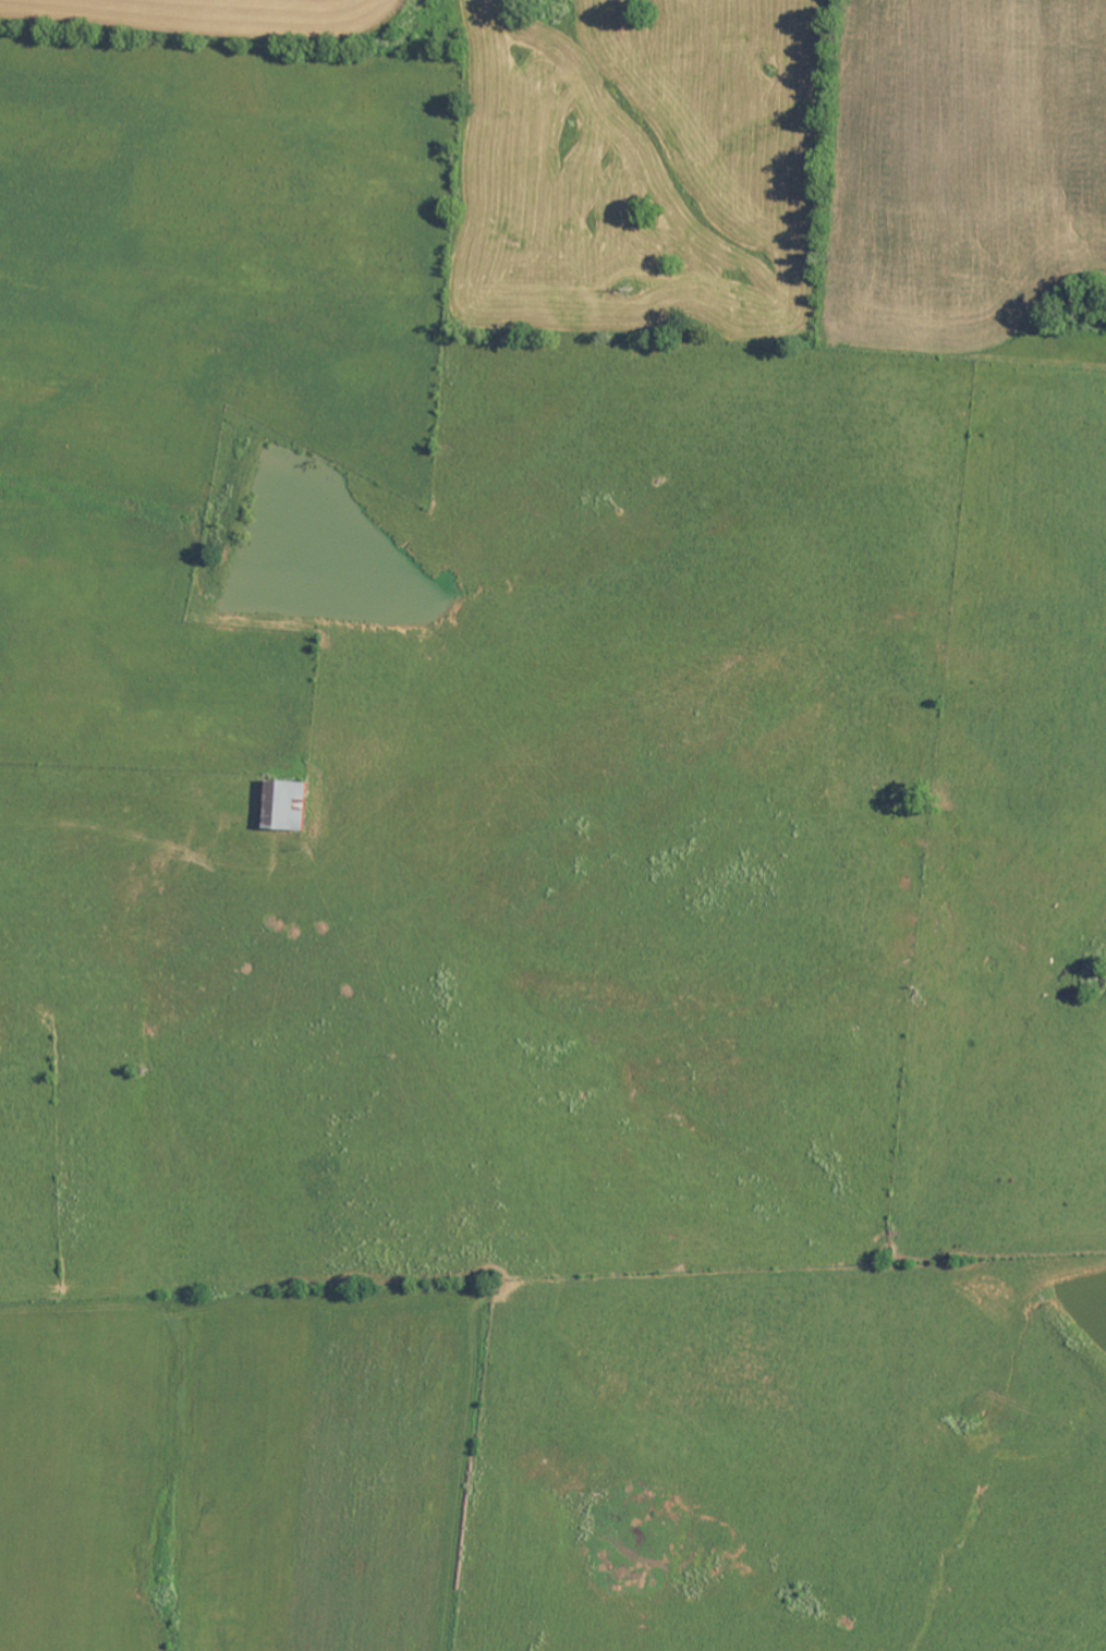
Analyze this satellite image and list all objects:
building: (294, 804)

